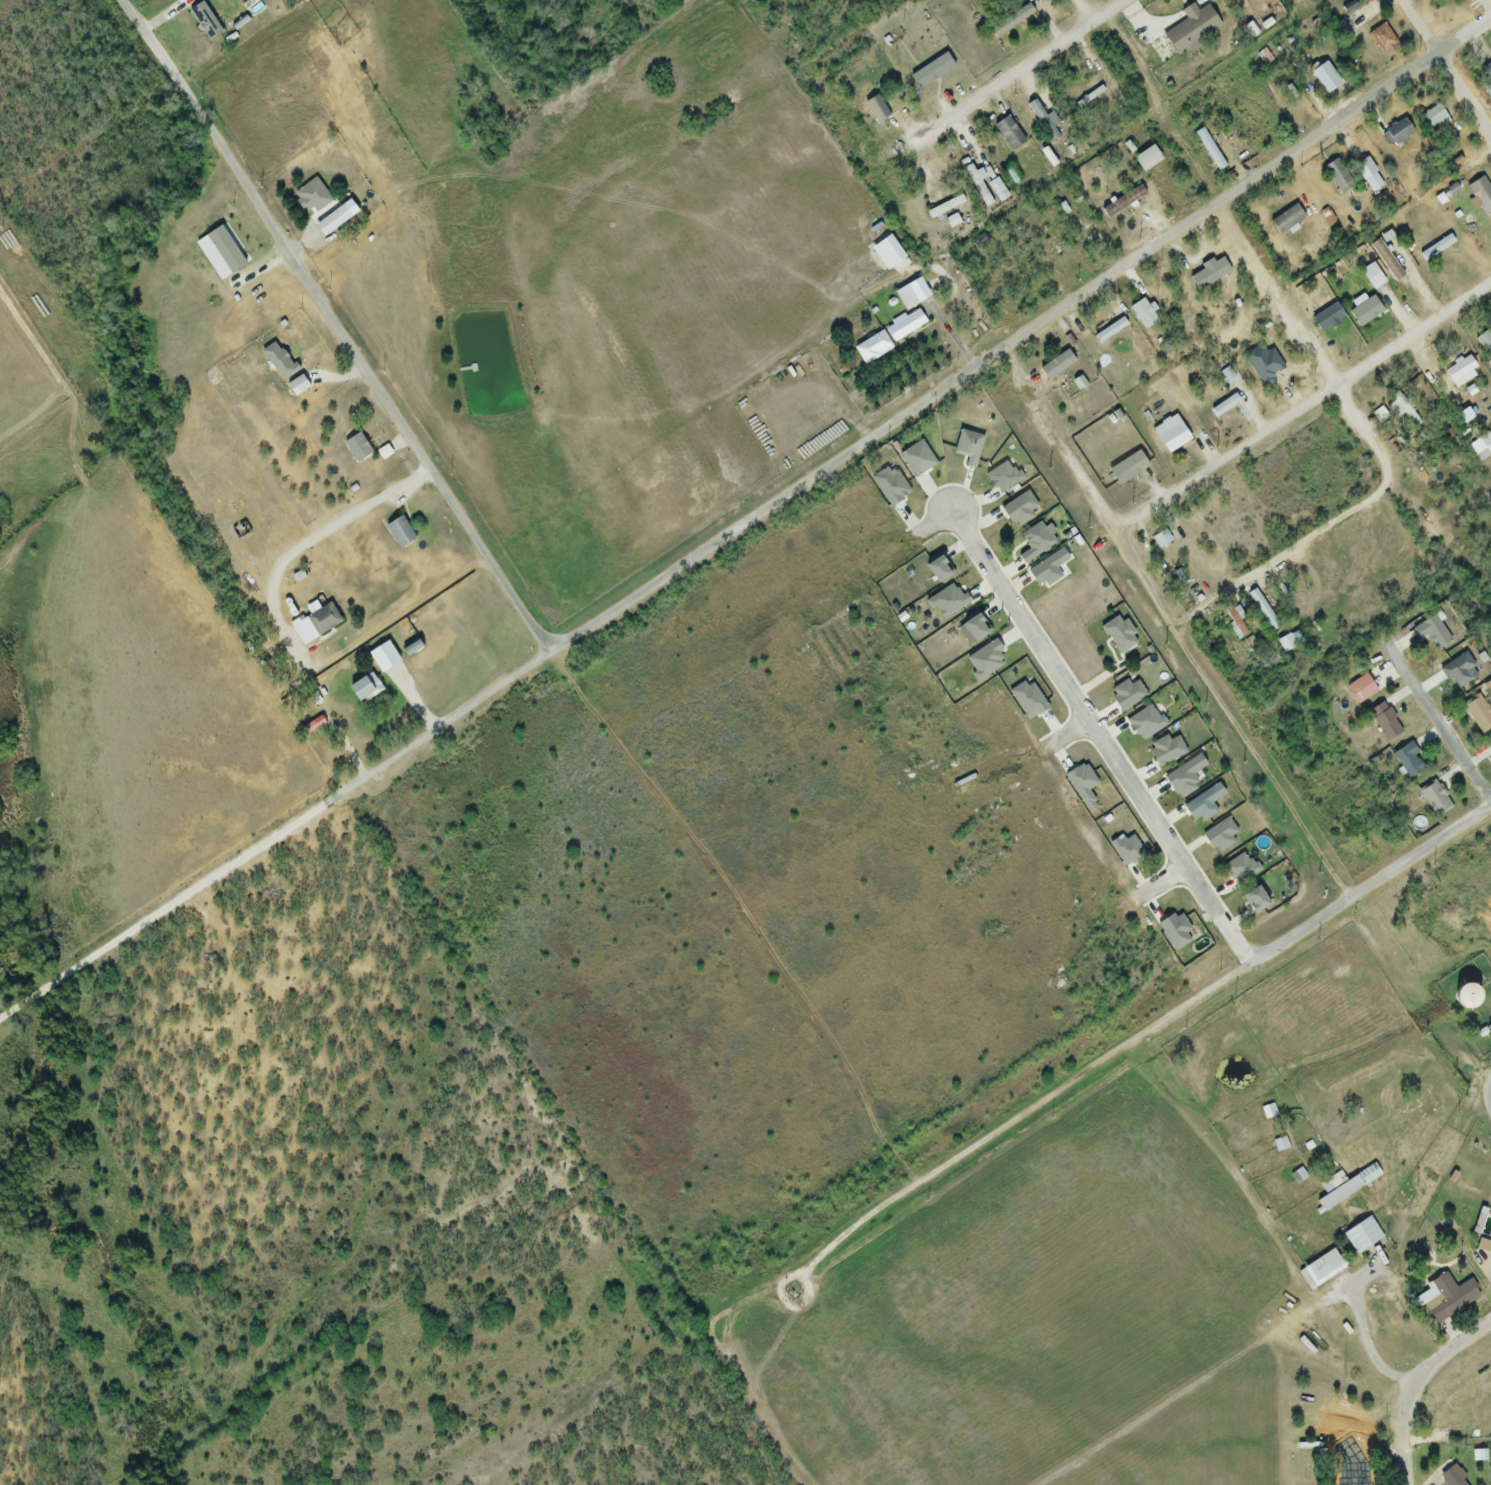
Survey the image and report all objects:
building: (1028, 0)
road: (1087, 12)
building: (1190, 29)
road: (1448, 65)
road: (1023, 71)
building: (1487, 71)
building: (1324, 77)
building: (878, 114)
building: (1433, 117)
building: (1007, 133)
building: (1395, 133)
building: (1209, 151)
building: (1144, 159)
building: (1368, 175)
building: (1338, 177)
building: (977, 186)
building: (996, 191)
building: (1481, 196)
building: (305, 203)
building: (944, 208)
building: (330, 221)
building: (1038, 244)
building: (223, 250)
building: (1418, 252)
building: (1385, 261)
building: (1208, 274)
building: (904, 298)
building: (1183, 319)
road: (339, 324)
building: (903, 326)
road: (1022, 335)
building: (1485, 343)
building: (871, 347)
building: (1459, 376)
building: (295, 386)
crop: (526, 387)
road: (1304, 410)
road: (1489, 419)
building: (1170, 434)
road: (1056, 444)
road: (1377, 450)
building: (398, 532)
building: (1160, 538)
building: (1262, 610)
building: (321, 620)
building: (1460, 671)
building: (362, 689)
building: (1359, 689)
road: (327, 706)
building: (1478, 713)
road: (1230, 719)
building: (1383, 721)
road: (1438, 725)
road: (1103, 736)
building: (1489, 748)
building: (1405, 762)
building: (1433, 800)
road: (276, 835)
road: (1167, 881)
road: (1372, 884)
building: (1430, 950)
road: (1487, 1080)
road: (1488, 1098)
building: (1268, 1112)
road: (1020, 1116)
building: (1338, 1193)
building: (1361, 1236)
building: (1483, 1247)
building: (1321, 1268)
building: (1447, 1297)
road: (1372, 1347)
road: (1422, 1372)
building: (1452, 1403)
road: (1407, 1468)
building: (1354, 1476)
building: (1449, 1478)

